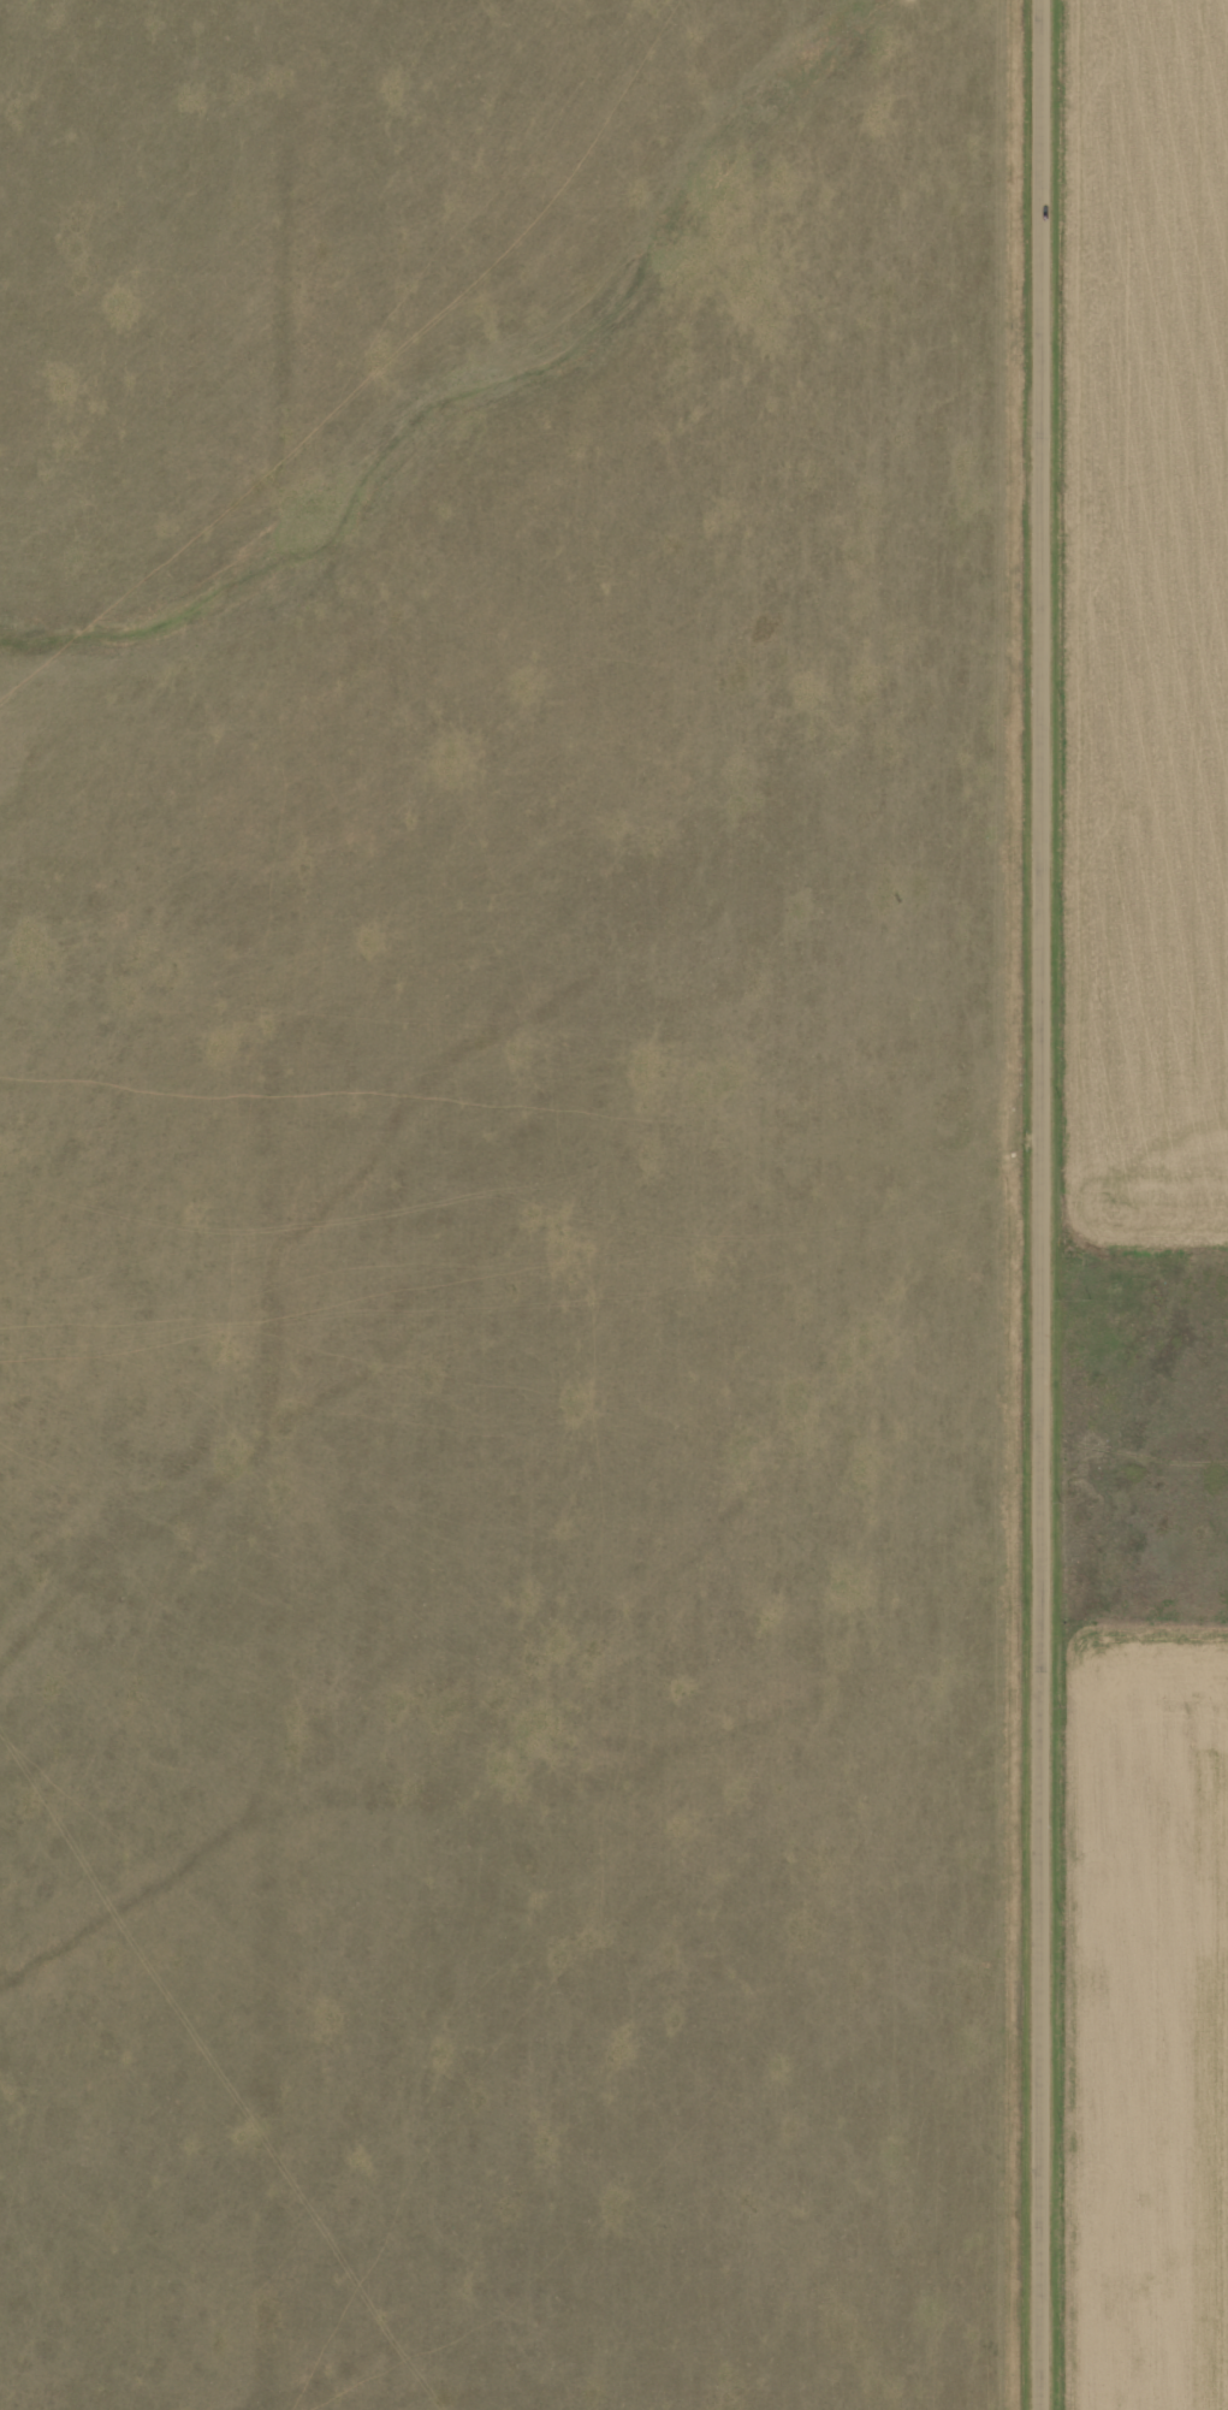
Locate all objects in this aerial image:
road: (1046, 1204)

